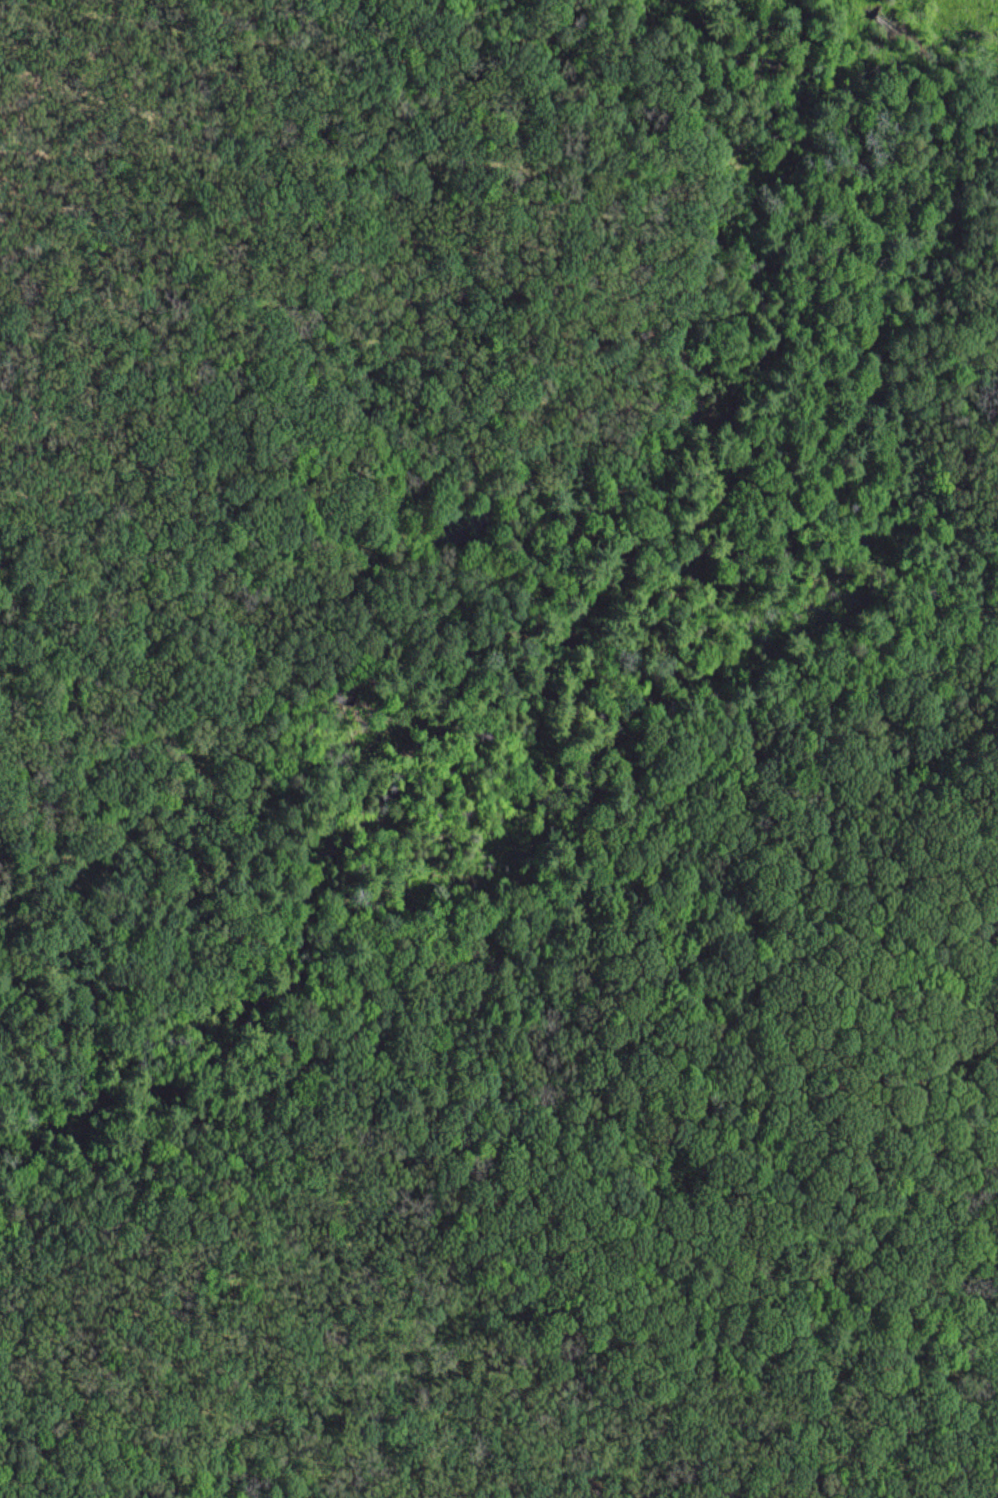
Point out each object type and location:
road: (342, 167)
road: (915, 185)

